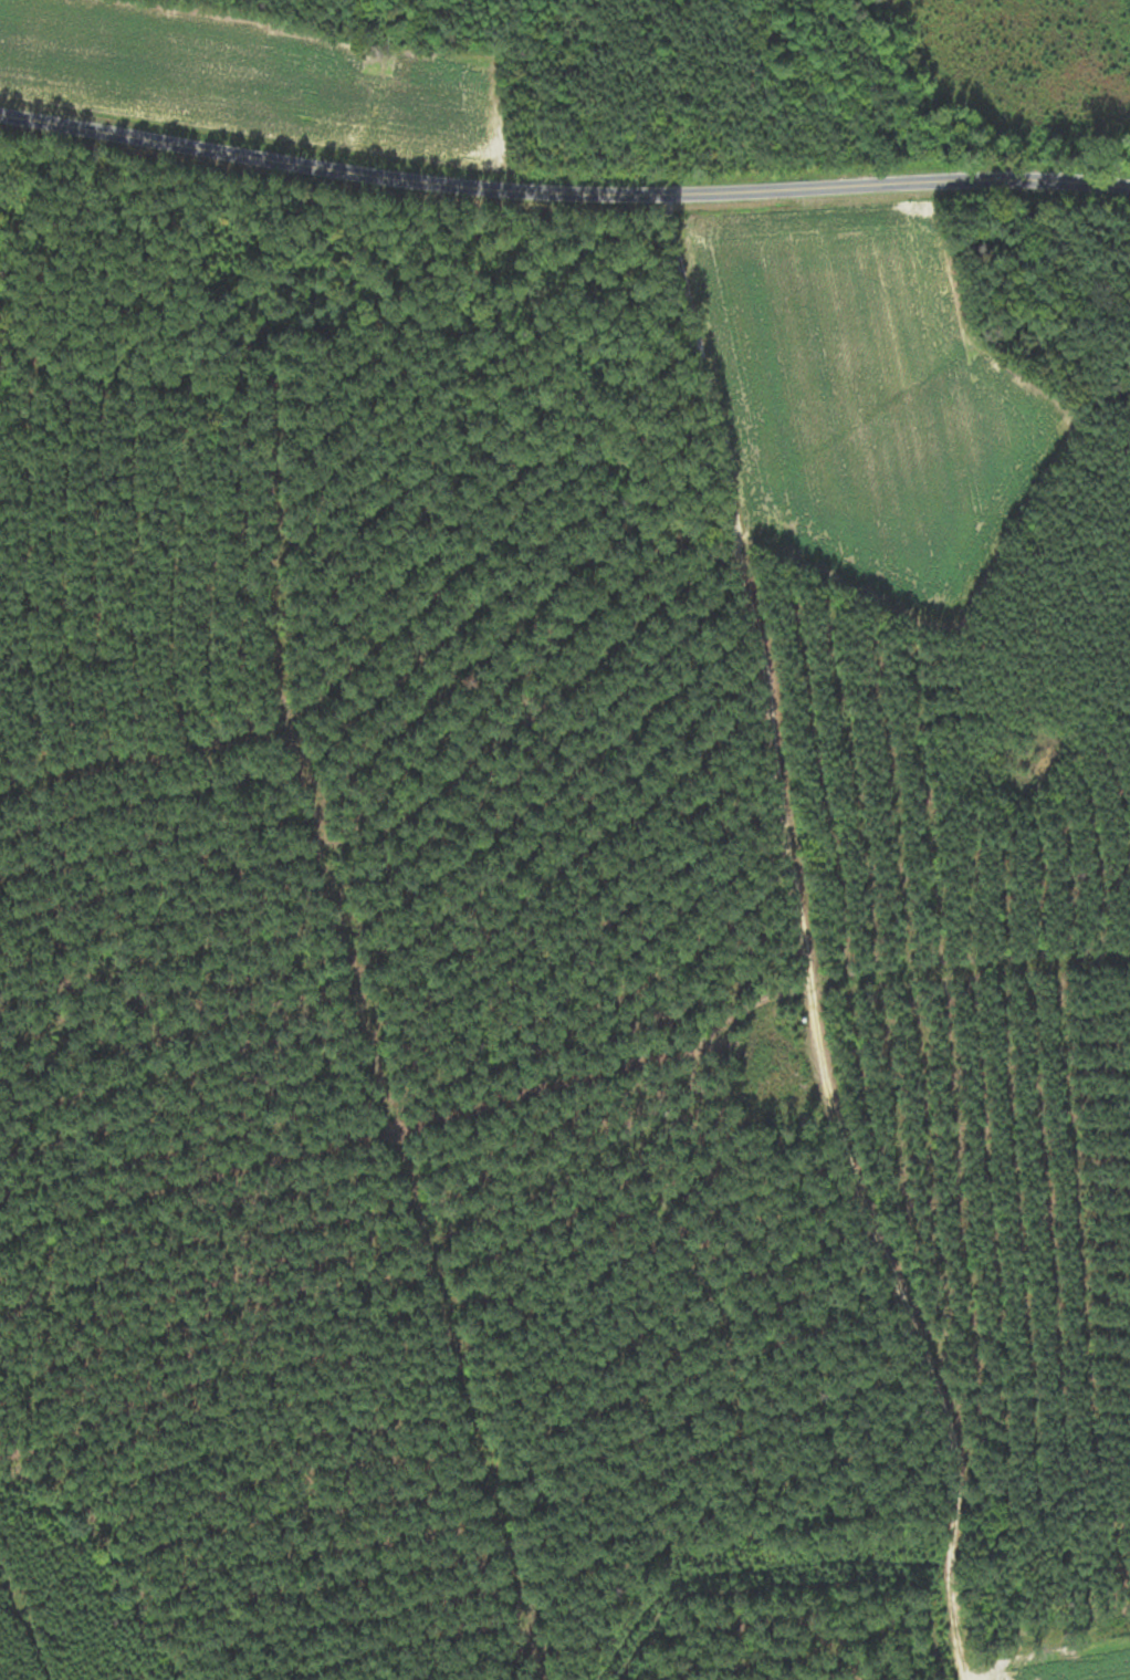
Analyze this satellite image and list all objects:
road: (562, 194)

